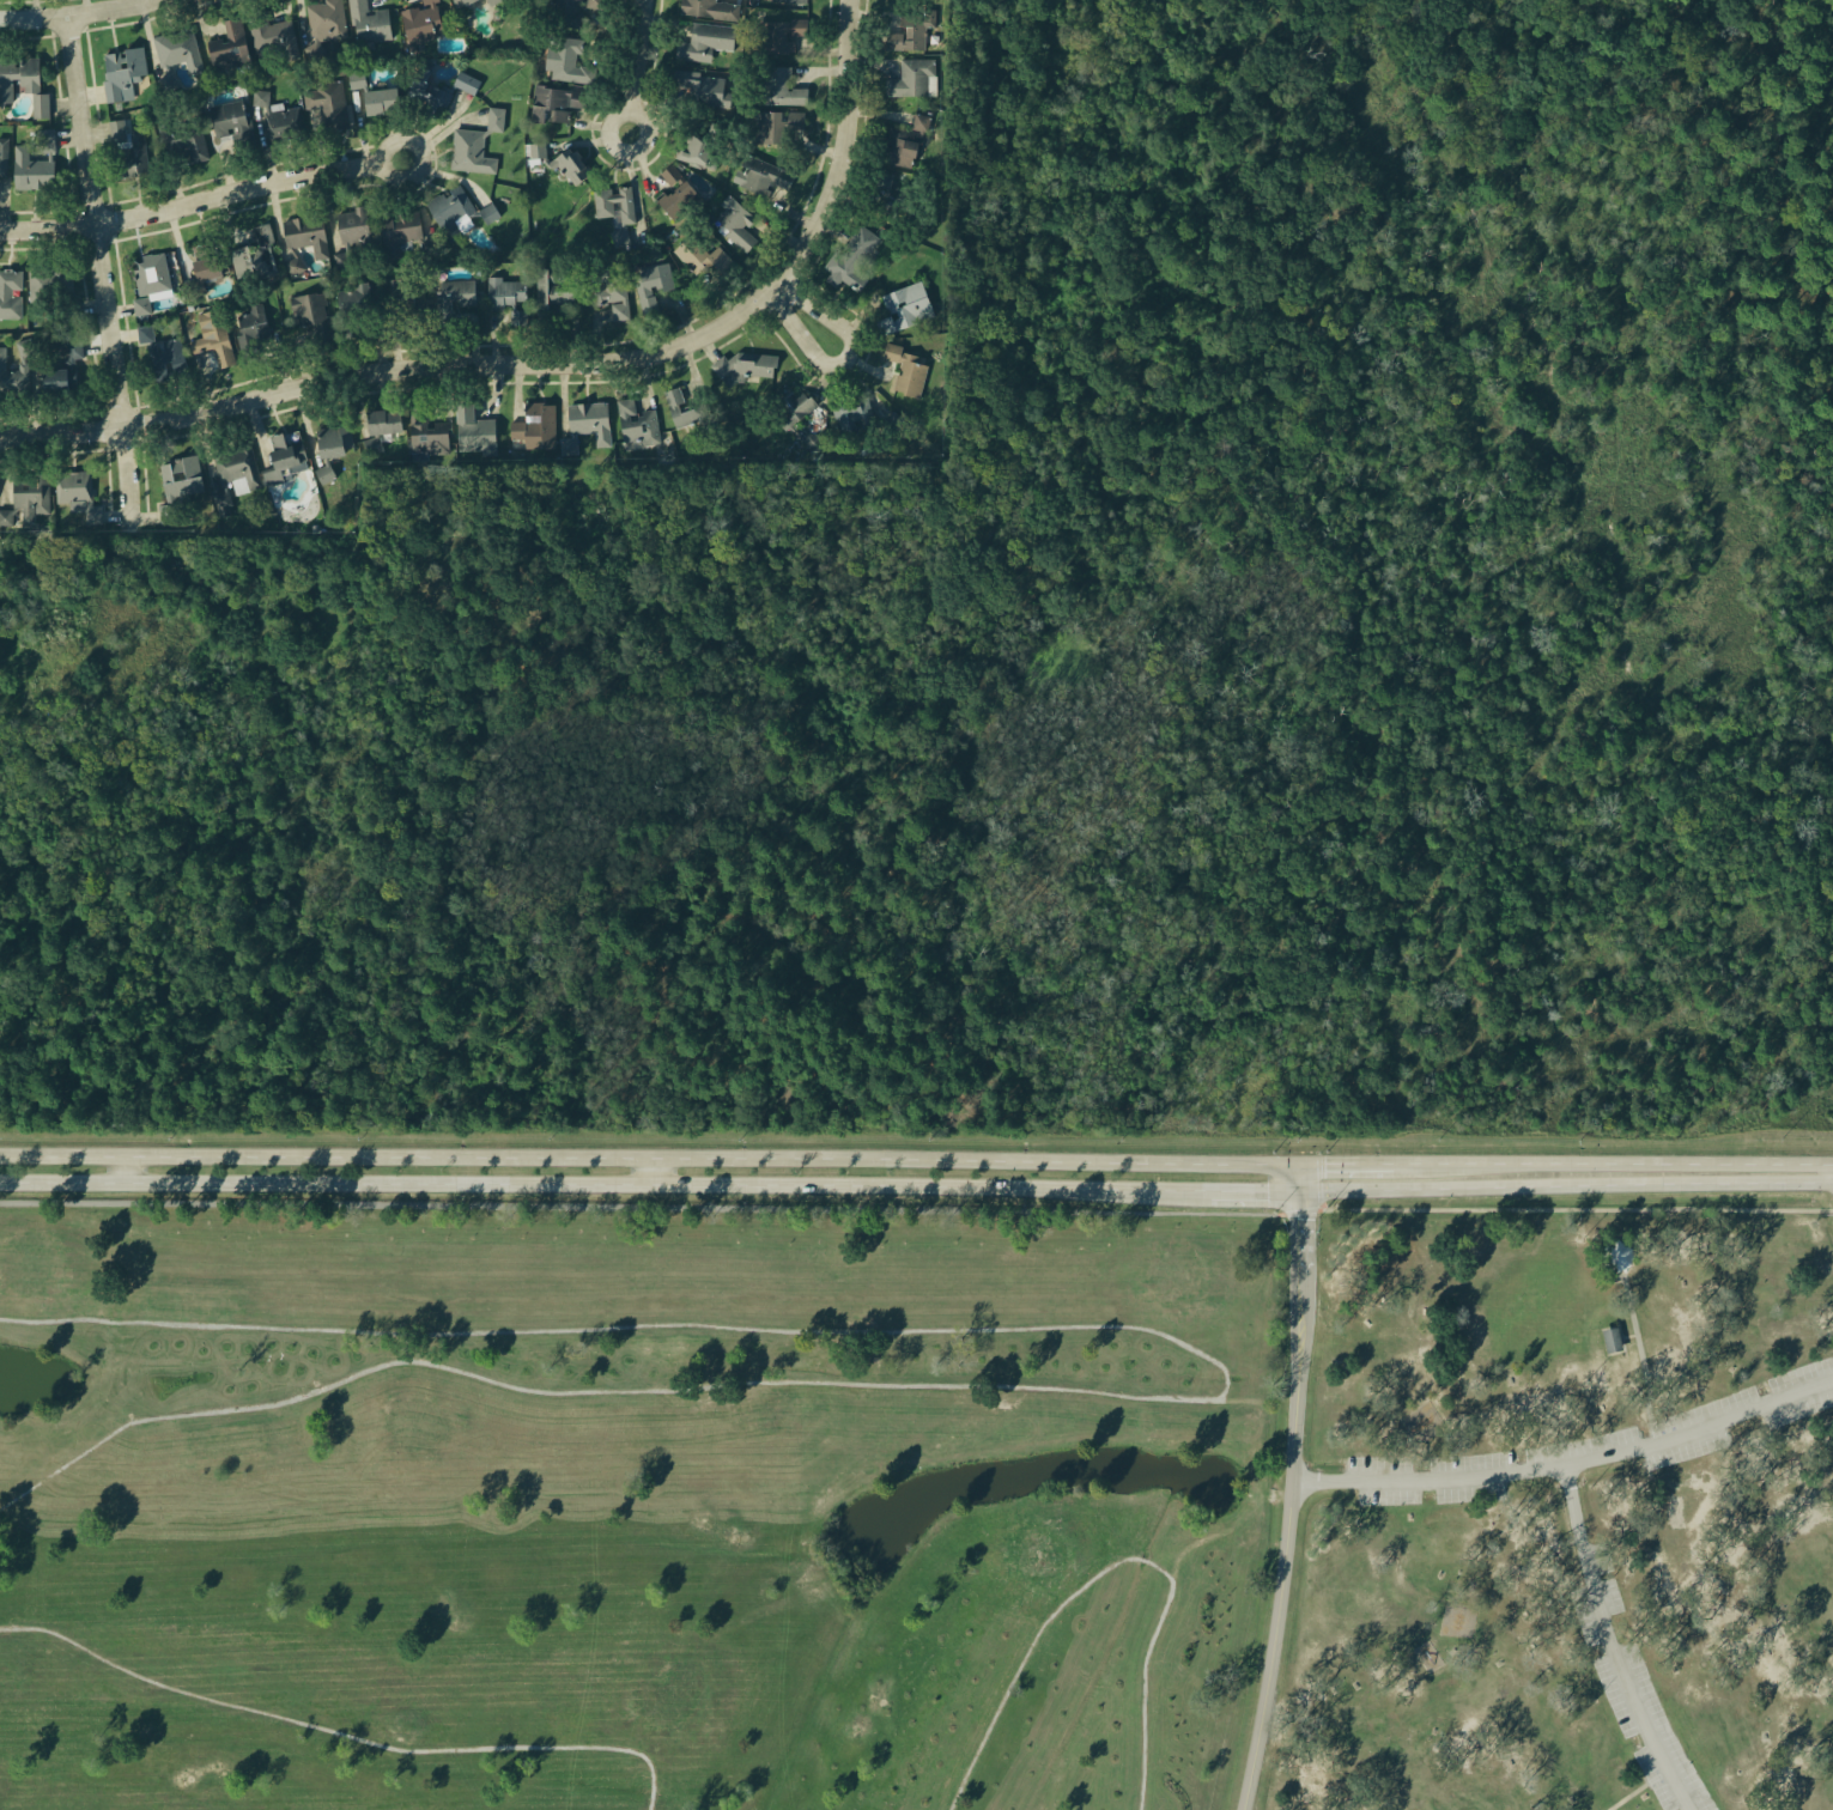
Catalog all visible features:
building: (802, 0)
building: (457, 2)
building: (493, 2)
building: (710, 7)
road: (83, 12)
building: (570, 13)
building: (326, 18)
building: (419, 22)
building: (368, 25)
building: (912, 28)
building: (782, 34)
building: (271, 40)
building: (702, 43)
building: (227, 48)
building: (564, 56)
road: (635, 56)
building: (176, 57)
building: (121, 69)
building: (16, 75)
building: (914, 78)
building: (356, 79)
building: (699, 86)
building: (779, 86)
building: (439, 89)
building: (260, 97)
building: (381, 101)
building: (557, 101)
building: (40, 104)
building: (326, 109)
building: (494, 119)
building: (232, 121)
building: (283, 123)
building: (772, 124)
building: (116, 129)
building: (45, 140)
road: (389, 142)
building: (698, 142)
building: (904, 145)
building: (183, 147)
building: (135, 150)
building: (471, 151)
road: (629, 151)
road: (844, 153)
building: (2, 156)
building: (559, 162)
building: (29, 168)
building: (763, 174)
building: (888, 189)
building: (676, 192)
road: (192, 204)
building: (455, 209)
building: (618, 211)
building: (733, 220)
building: (397, 230)
building: (352, 231)
building: (306, 239)
building: (251, 256)
building: (849, 260)
building: (708, 262)
road: (102, 267)
building: (206, 272)
building: (151, 273)
building: (50, 281)
building: (651, 283)
building: (548, 287)
building: (612, 287)
building: (455, 294)
building: (508, 294)
building: (10, 296)
building: (403, 302)
building: (140, 305)
building: (354, 305)
building: (903, 306)
building: (311, 312)
road: (802, 316)
building: (251, 327)
building: (214, 340)
building: (23, 346)
building: (163, 350)
building: (59, 366)
building: (743, 366)
building: (905, 368)
road: (393, 371)
building: (14, 378)
building: (785, 406)
building: (687, 411)
building: (854, 413)
building: (585, 419)
building: (894, 420)
building: (636, 425)
building: (535, 427)
building: (384, 430)
building: (473, 431)
building: (427, 435)
building: (334, 439)
building: (812, 441)
building: (286, 458)
building: (324, 474)
building: (181, 475)
building: (233, 476)
building: (78, 492)
building: (34, 494)
building: (160, 514)
building: (7, 517)
road: (653, 1161)
traffic signals: (1325, 1162)
road: (1367, 1162)
road: (1486, 1162)
road: (1687, 1162)
road: (1304, 1176)
road: (1567, 1184)
road: (581, 1188)
road: (1233, 1190)
traffic signals: (1266, 1191)
road: (638, 1205)
road: (1573, 1209)
road: (1831, 1210)
road: (1298, 1211)
street lamp: (1316, 1217)
traffic signals: (1304, 1219)
road: (1301, 1256)
building: (1617, 1258)
park: (30, 1261)
park: (1173, 1275)
road: (1625, 1336)
building: (1608, 1340)
road: (1637, 1348)
road: (1220, 1398)
parking lot: (1669, 1426)
road: (1656, 1431)
parking lot: (1658, 1431)
parking lot: (1600, 1446)
road: (1570, 1463)
traffic signals: (1318, 1478)
traffic signals: (1572, 1488)
park: (632, 1504)
park: (918, 1508)
road: (1183, 1547)
park: (1038, 1551)
road: (1113, 1567)
road: (1285, 1567)
road: (1614, 1644)
parking lot: (1633, 1687)
park: (672, 1695)
road: (342, 1733)
parking lot: (1652, 1773)
road: (1638, 1786)

